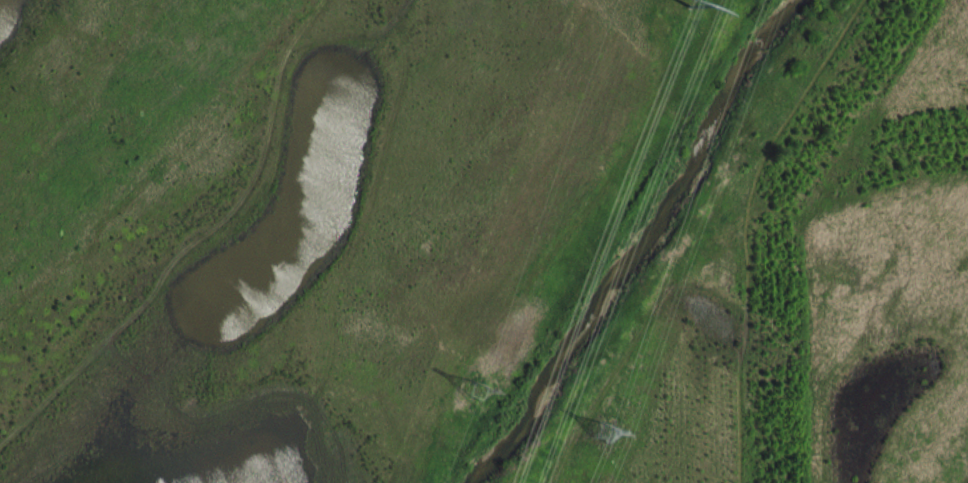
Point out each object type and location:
power tower: (684, 26)
road: (748, 226)
power tower: (480, 395)
power tower: (608, 434)

